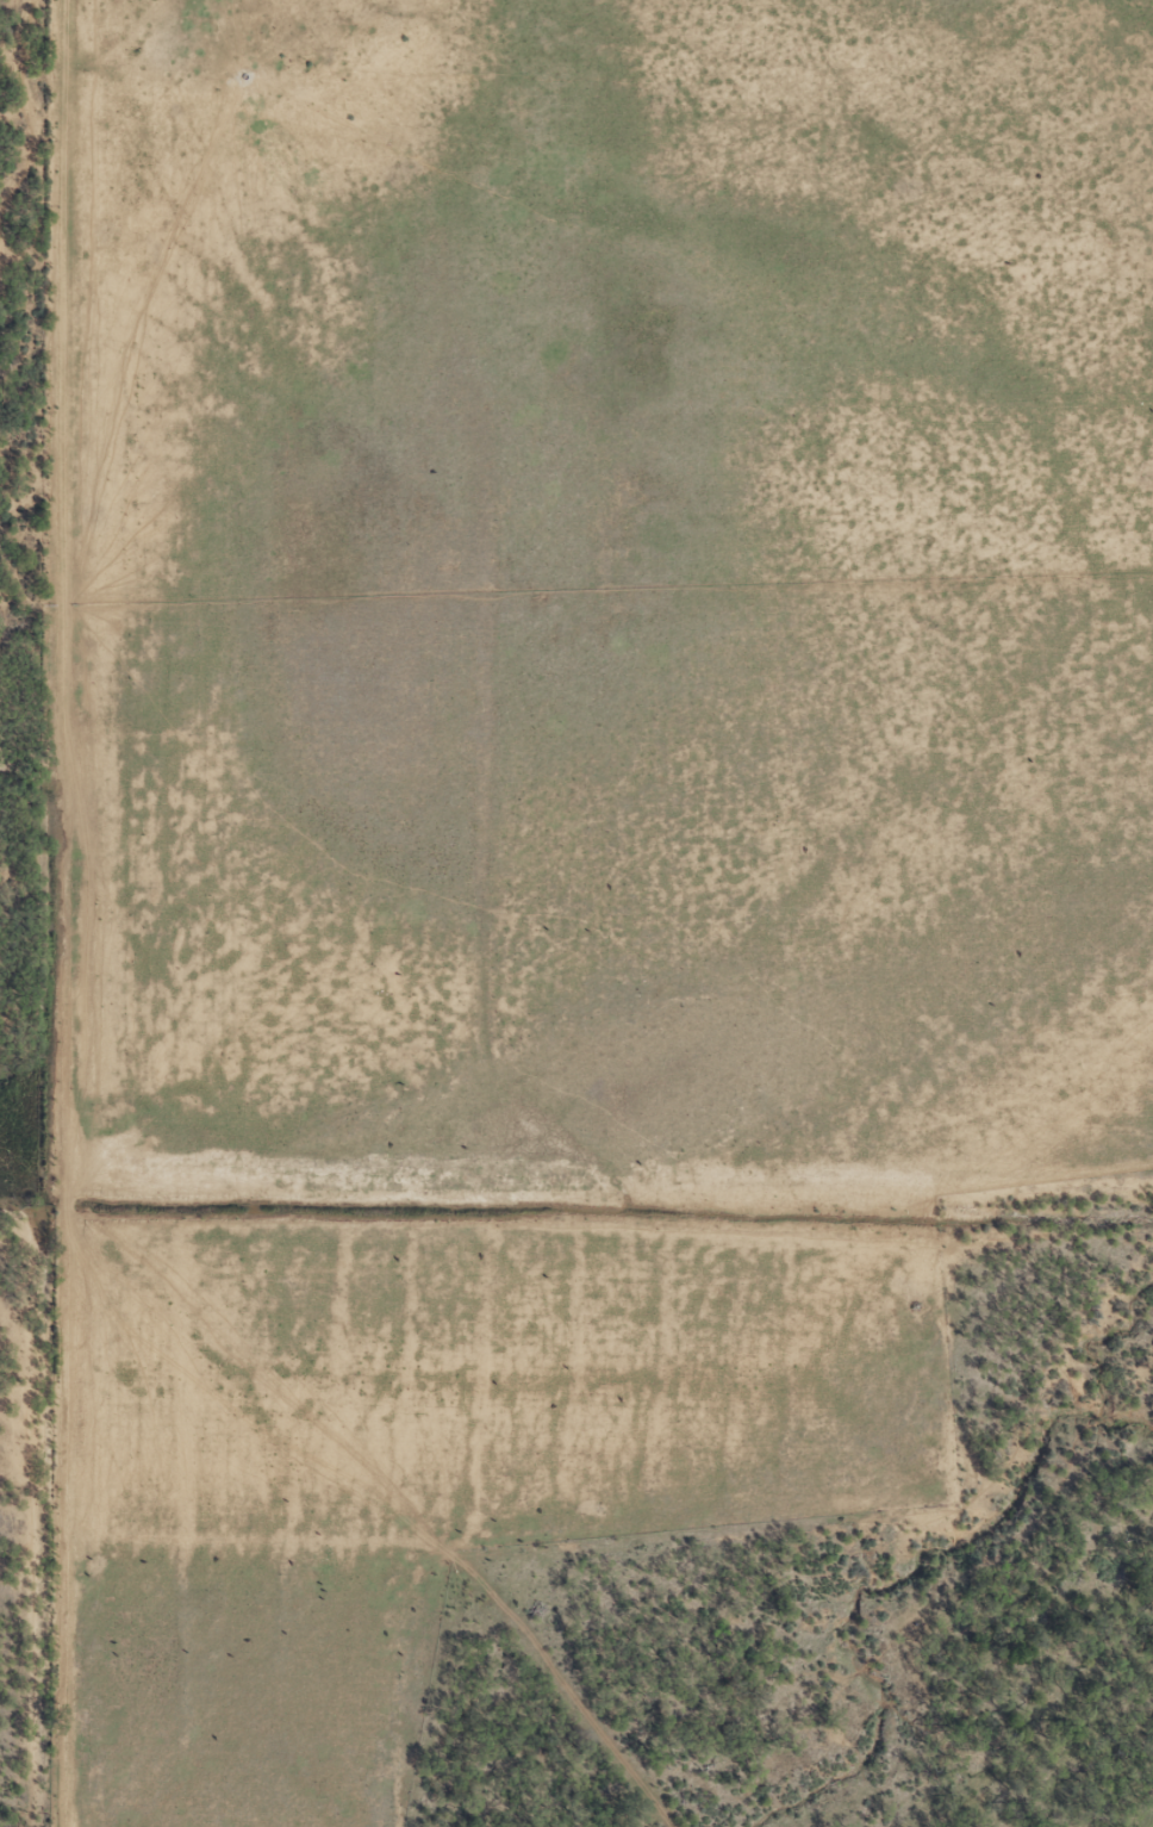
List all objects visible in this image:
road: (61, 913)

